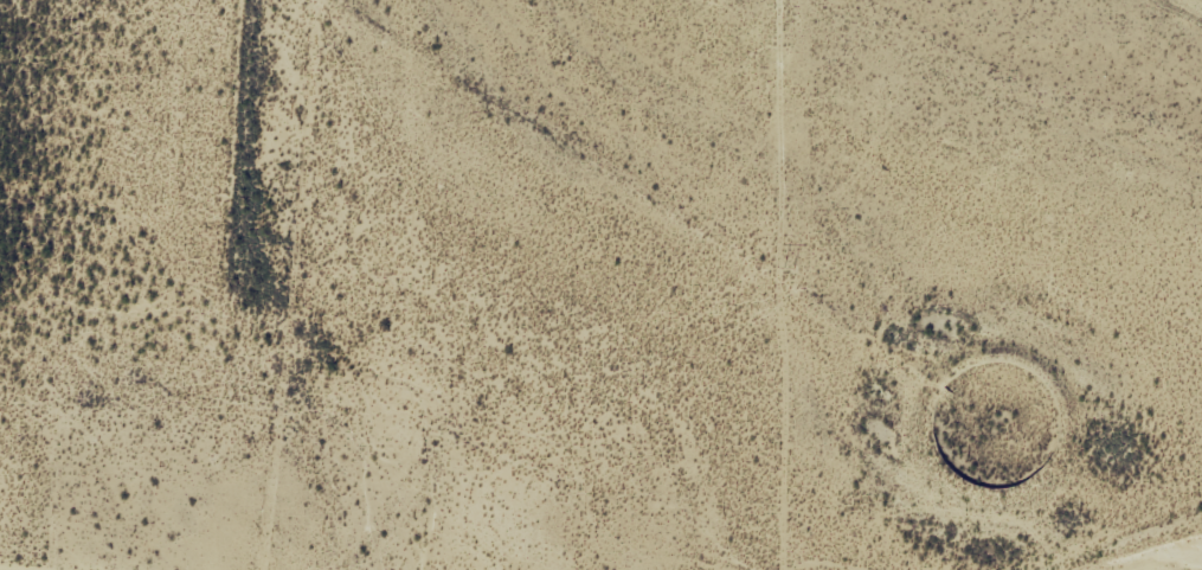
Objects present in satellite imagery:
road: (1187, 7)
power tower: (788, 265)

